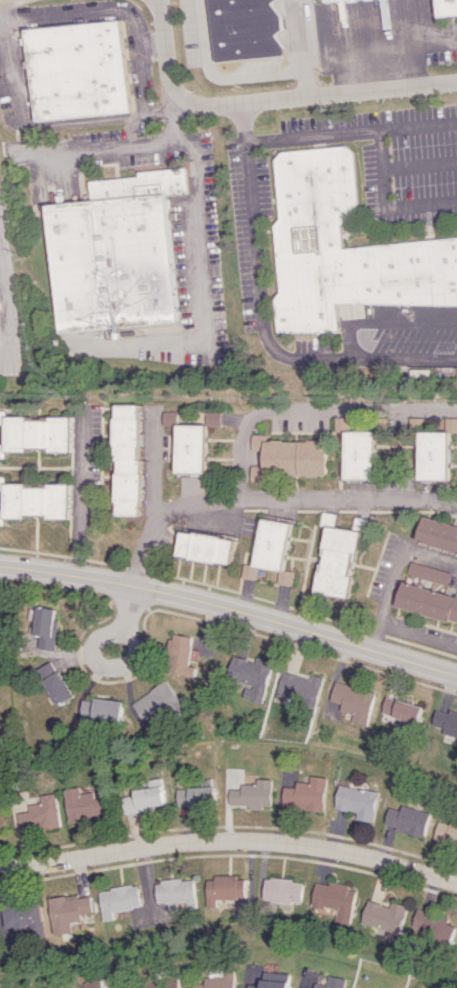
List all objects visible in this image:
building: (324, 0)
building: (446, 7)
road: (114, 12)
building: (243, 29)
road: (297, 36)
road: (392, 46)
building: (77, 70)
road: (230, 78)
road: (267, 102)
road: (53, 122)
road: (349, 130)
road: (122, 148)
road: (385, 201)
road: (192, 232)
building: (344, 249)
building: (113, 254)
road: (6, 311)
road: (258, 323)
road: (309, 410)
building: (168, 418)
building: (340, 424)
building: (450, 425)
building: (35, 434)
building: (190, 449)
building: (358, 455)
building: (432, 456)
building: (287, 458)
building: (127, 462)
building: (2, 483)
road: (270, 497)
road: (80, 500)
building: (37, 501)
building: (437, 534)
building: (206, 547)
building: (275, 549)
building: (337, 562)
building: (427, 572)
road: (393, 576)
building: (427, 602)
road: (230, 612)
building: (46, 627)
road: (418, 634)
road: (95, 650)
building: (183, 656)
building: (252, 676)
building: (55, 683)
building: (300, 688)
building: (157, 703)
building: (350, 703)
building: (102, 710)
building: (399, 711)
building: (445, 725)
building: (304, 794)
building: (250, 795)
building: (194, 796)
building: (143, 798)
building: (356, 802)
building: (83, 806)
building: (38, 814)
building: (406, 820)
building: (445, 832)
road: (230, 840)
building: (222, 889)
building: (281, 890)
building: (174, 894)
building: (116, 900)
building: (333, 901)
building: (66, 913)
building: (18, 916)
building: (383, 917)
building: (432, 928)
building: (273, 976)
building: (213, 981)
building: (329, 983)
building: (90, 984)
building: (157, 984)
building: (267, 984)
building: (46, 987)
building: (298, 987)

